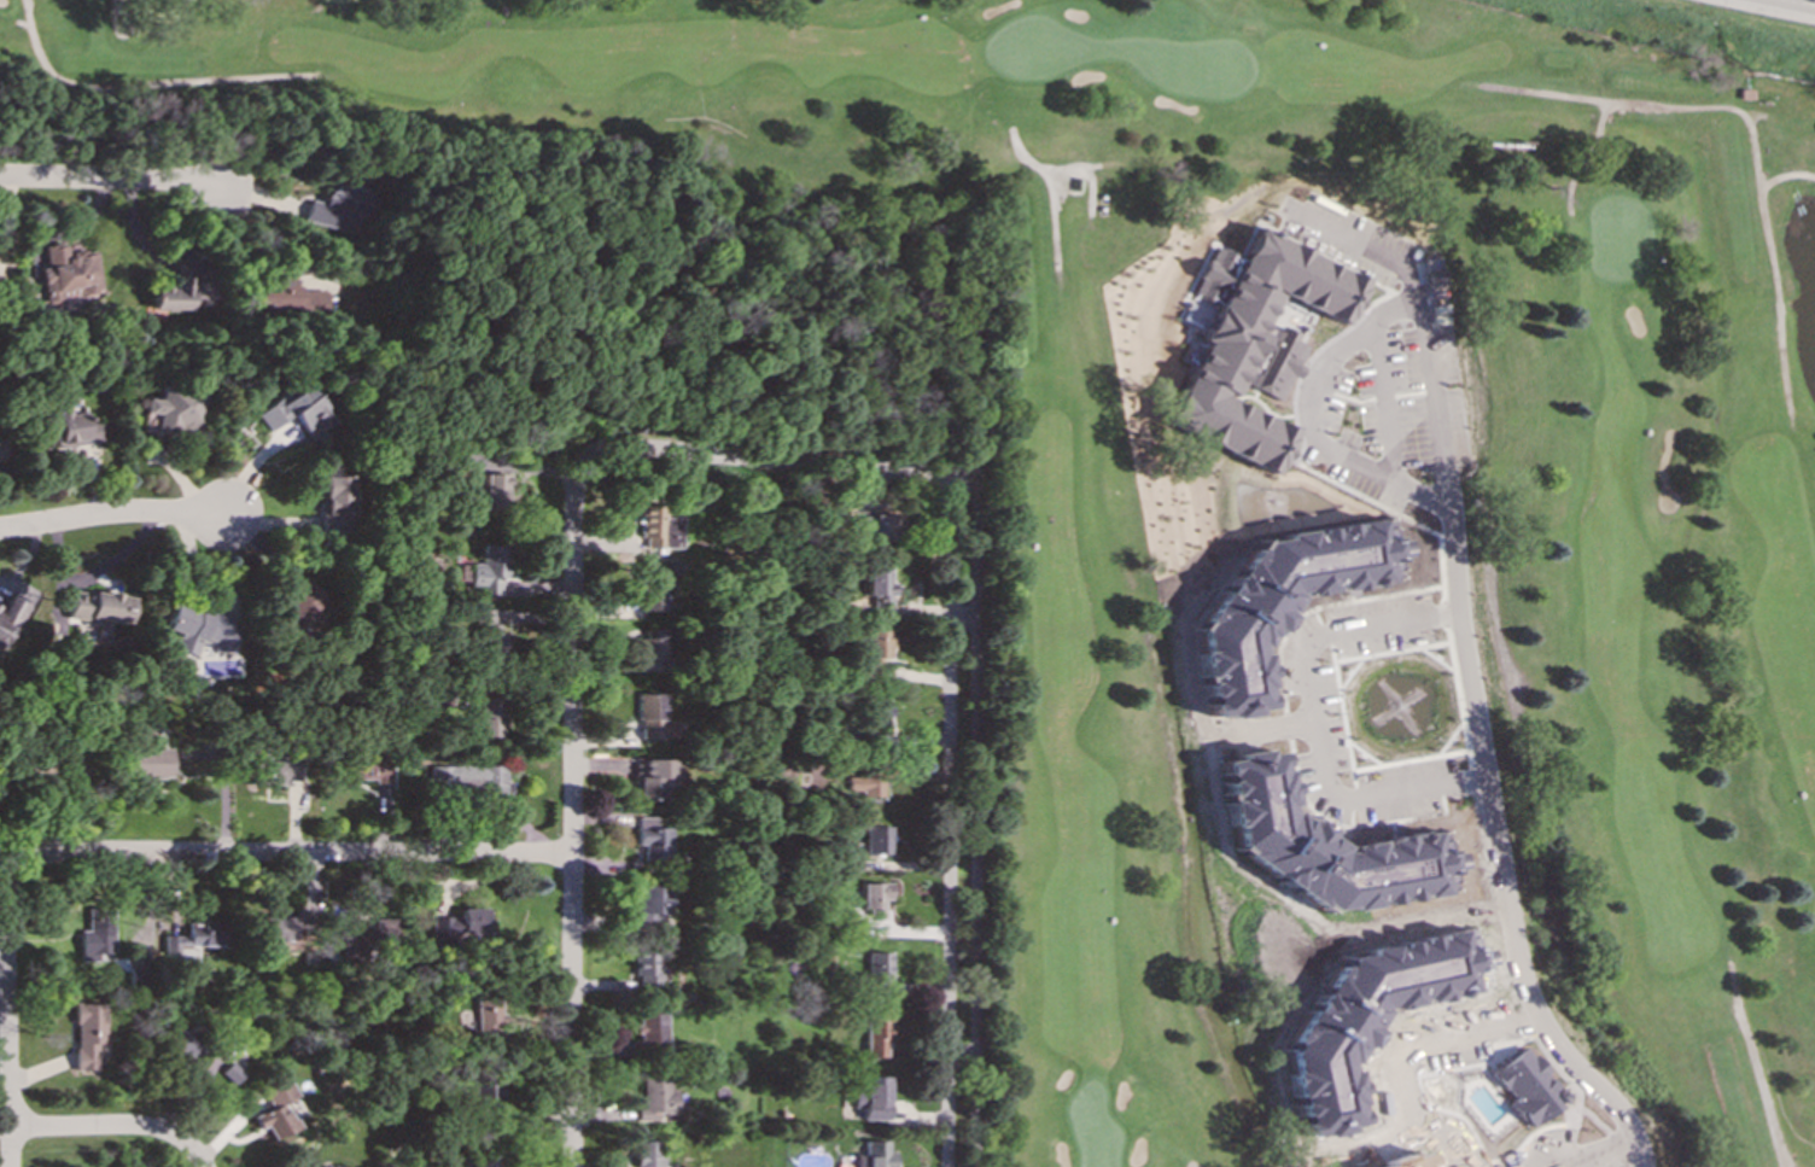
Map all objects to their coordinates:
road: (1786, 6)
road: (121, 13)
road: (24, 23)
road: (141, 83)
road: (1751, 135)
road: (1581, 157)
road: (1085, 174)
road: (1785, 174)
road: (111, 179)
road: (1052, 192)
building: (335, 209)
building: (65, 269)
park: (705, 292)
building: (180, 296)
road: (1417, 319)
building: (1251, 343)
road: (1385, 402)
building: (169, 410)
building: (290, 410)
road: (1298, 419)
building: (66, 430)
building: (5, 457)
road: (764, 460)
building: (494, 492)
building: (333, 502)
road: (113, 513)
building: (870, 525)
building: (655, 527)
building: (649, 587)
building: (877, 590)
building: (1279, 601)
building: (98, 608)
road: (963, 613)
building: (10, 614)
building: (199, 628)
building: (490, 632)
building: (650, 649)
building: (875, 650)
building: (875, 708)
building: (488, 716)
building: (652, 717)
road: (1313, 720)
road: (1276, 727)
park: (1667, 747)
building: (145, 759)
building: (368, 766)
building: (278, 771)
building: (650, 776)
building: (466, 778)
building: (865, 784)
road: (976, 812)
road: (572, 816)
road: (949, 822)
building: (650, 839)
building: (877, 839)
building: (1323, 846)
road: (290, 852)
road: (1498, 854)
building: (873, 897)
building: (653, 909)
building: (461, 926)
building: (282, 928)
building: (97, 935)
building: (193, 936)
building: (647, 967)
building: (876, 970)
building: (489, 1016)
building: (1365, 1017)
road: (7, 1022)
building: (649, 1027)
building: (875, 1034)
building: (186, 1041)
road: (1407, 1049)
road: (1755, 1063)
building: (1528, 1086)
building: (656, 1098)
building: (873, 1098)
building: (276, 1108)
road: (113, 1126)
road: (1358, 1142)
building: (648, 1153)
building: (876, 1154)
road: (1605, 1154)
building: (485, 1161)
building: (1403, 1161)
road: (1194, 1163)

